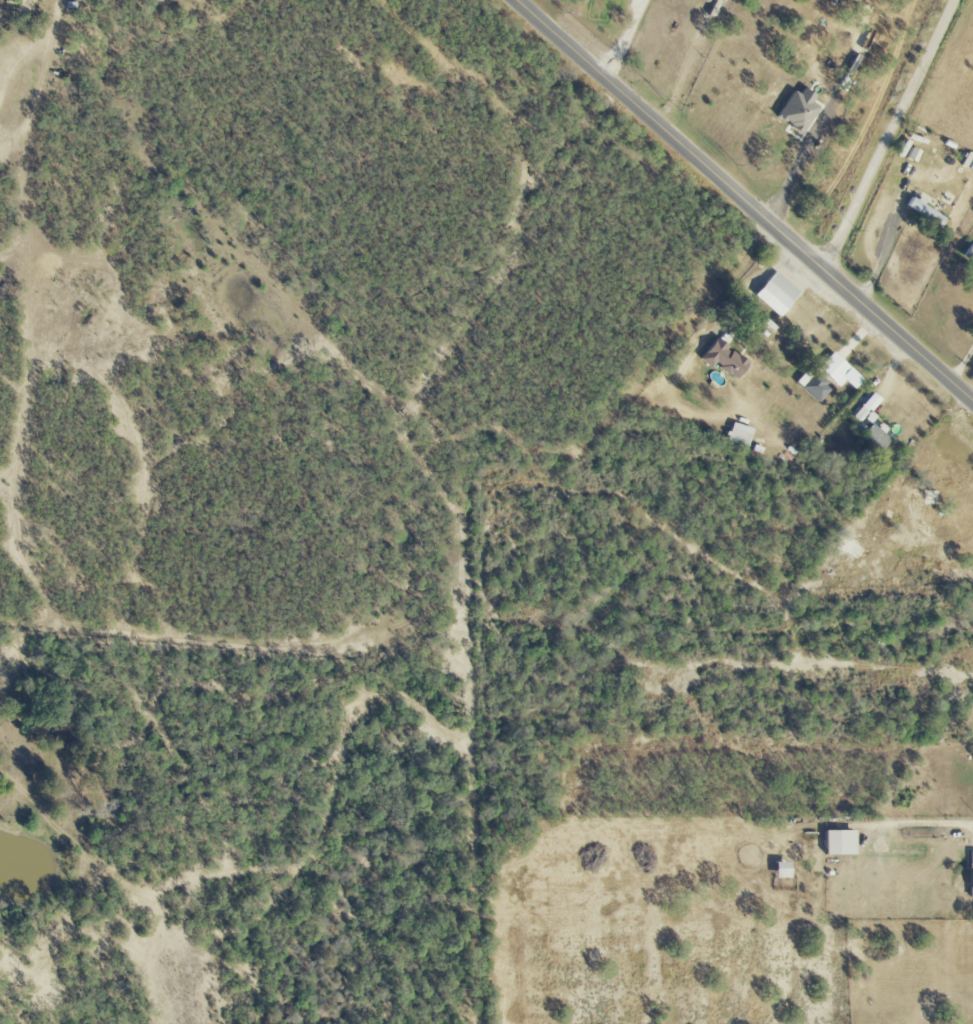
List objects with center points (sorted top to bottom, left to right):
road: (624, 37)
building: (801, 110)
road: (889, 135)
road: (794, 184)
road: (744, 199)
building: (927, 211)
road: (883, 250)
building: (970, 253)
road: (761, 280)
building: (779, 293)
building: (726, 359)
road: (962, 363)
building: (841, 371)
building: (816, 385)
building: (741, 434)
building: (877, 437)
building: (933, 498)
road: (922, 821)
building: (835, 842)
building: (778, 870)
building: (969, 874)

